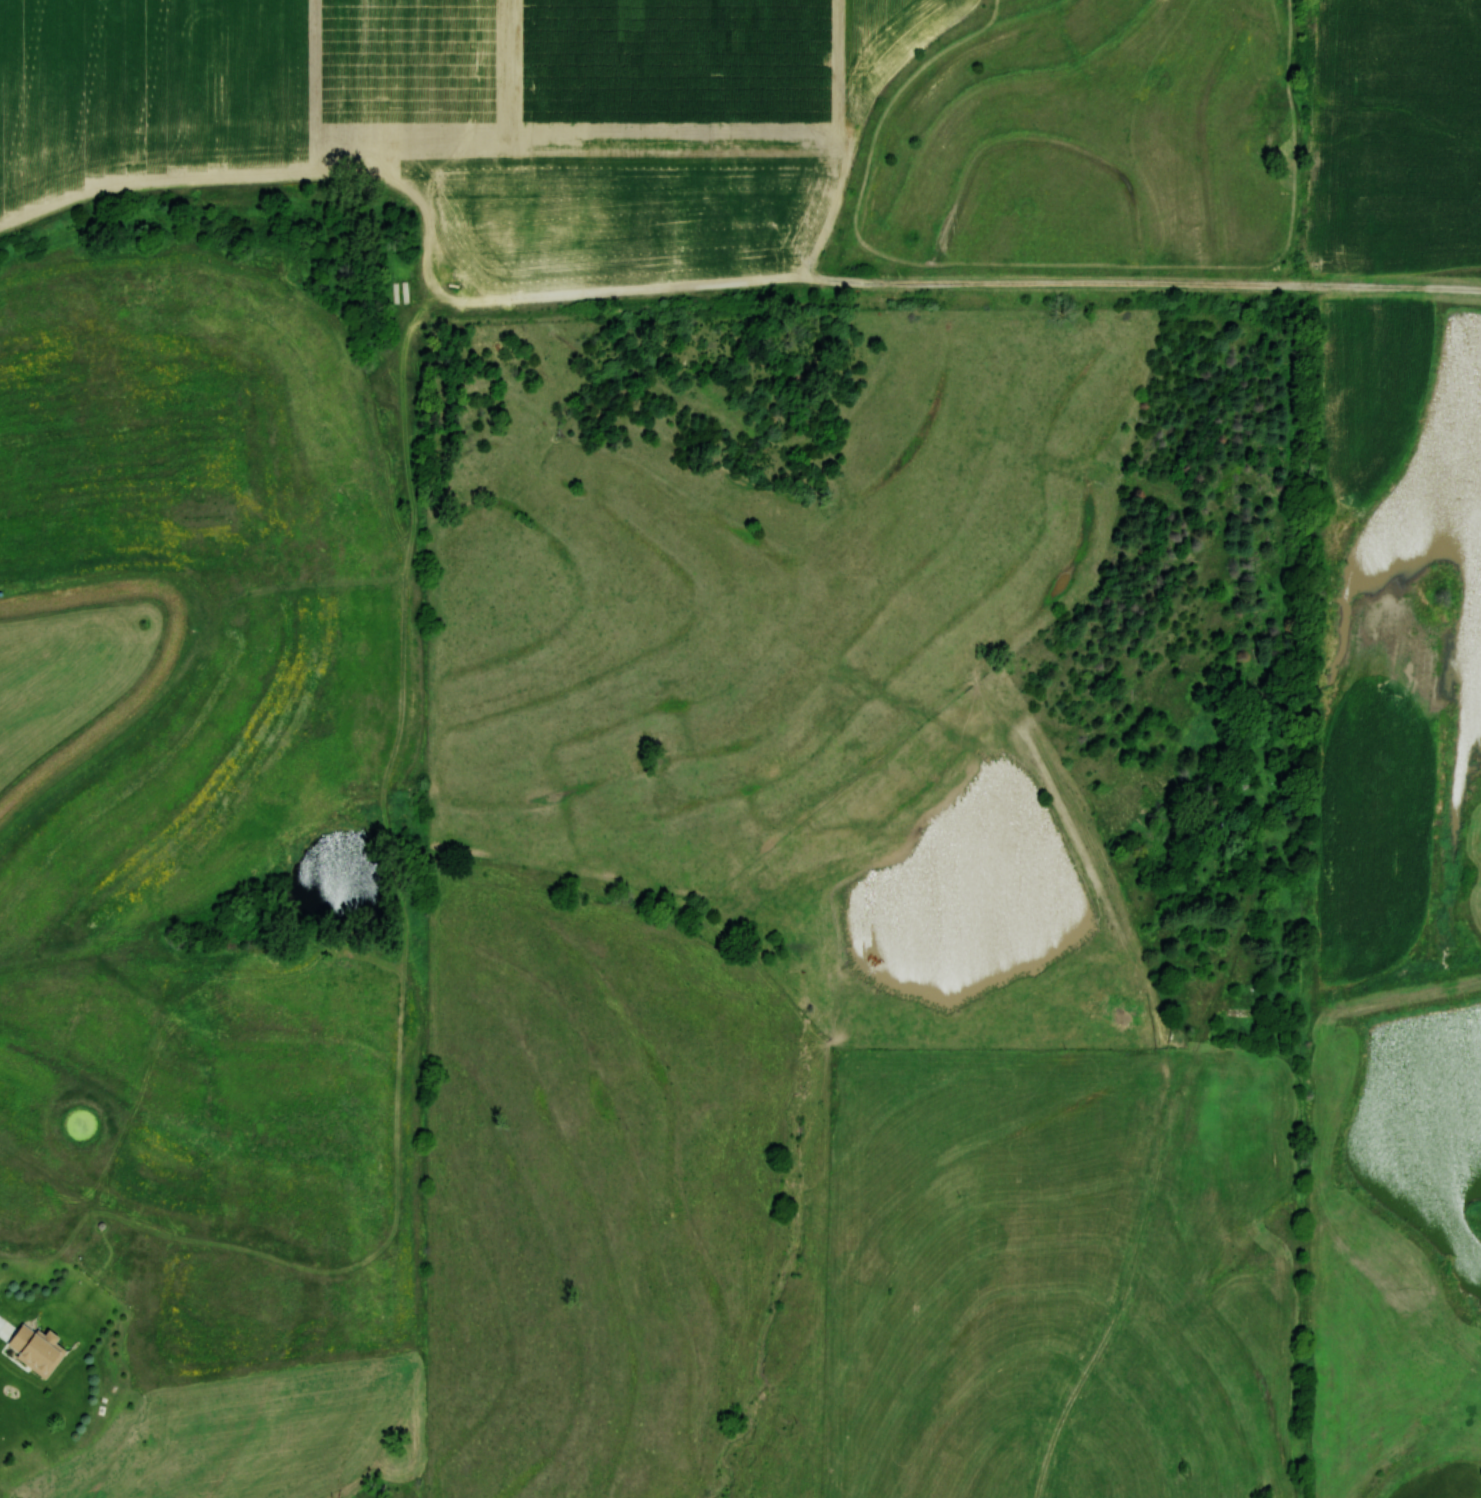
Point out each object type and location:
building: (1241, 782)
building: (35, 1351)

